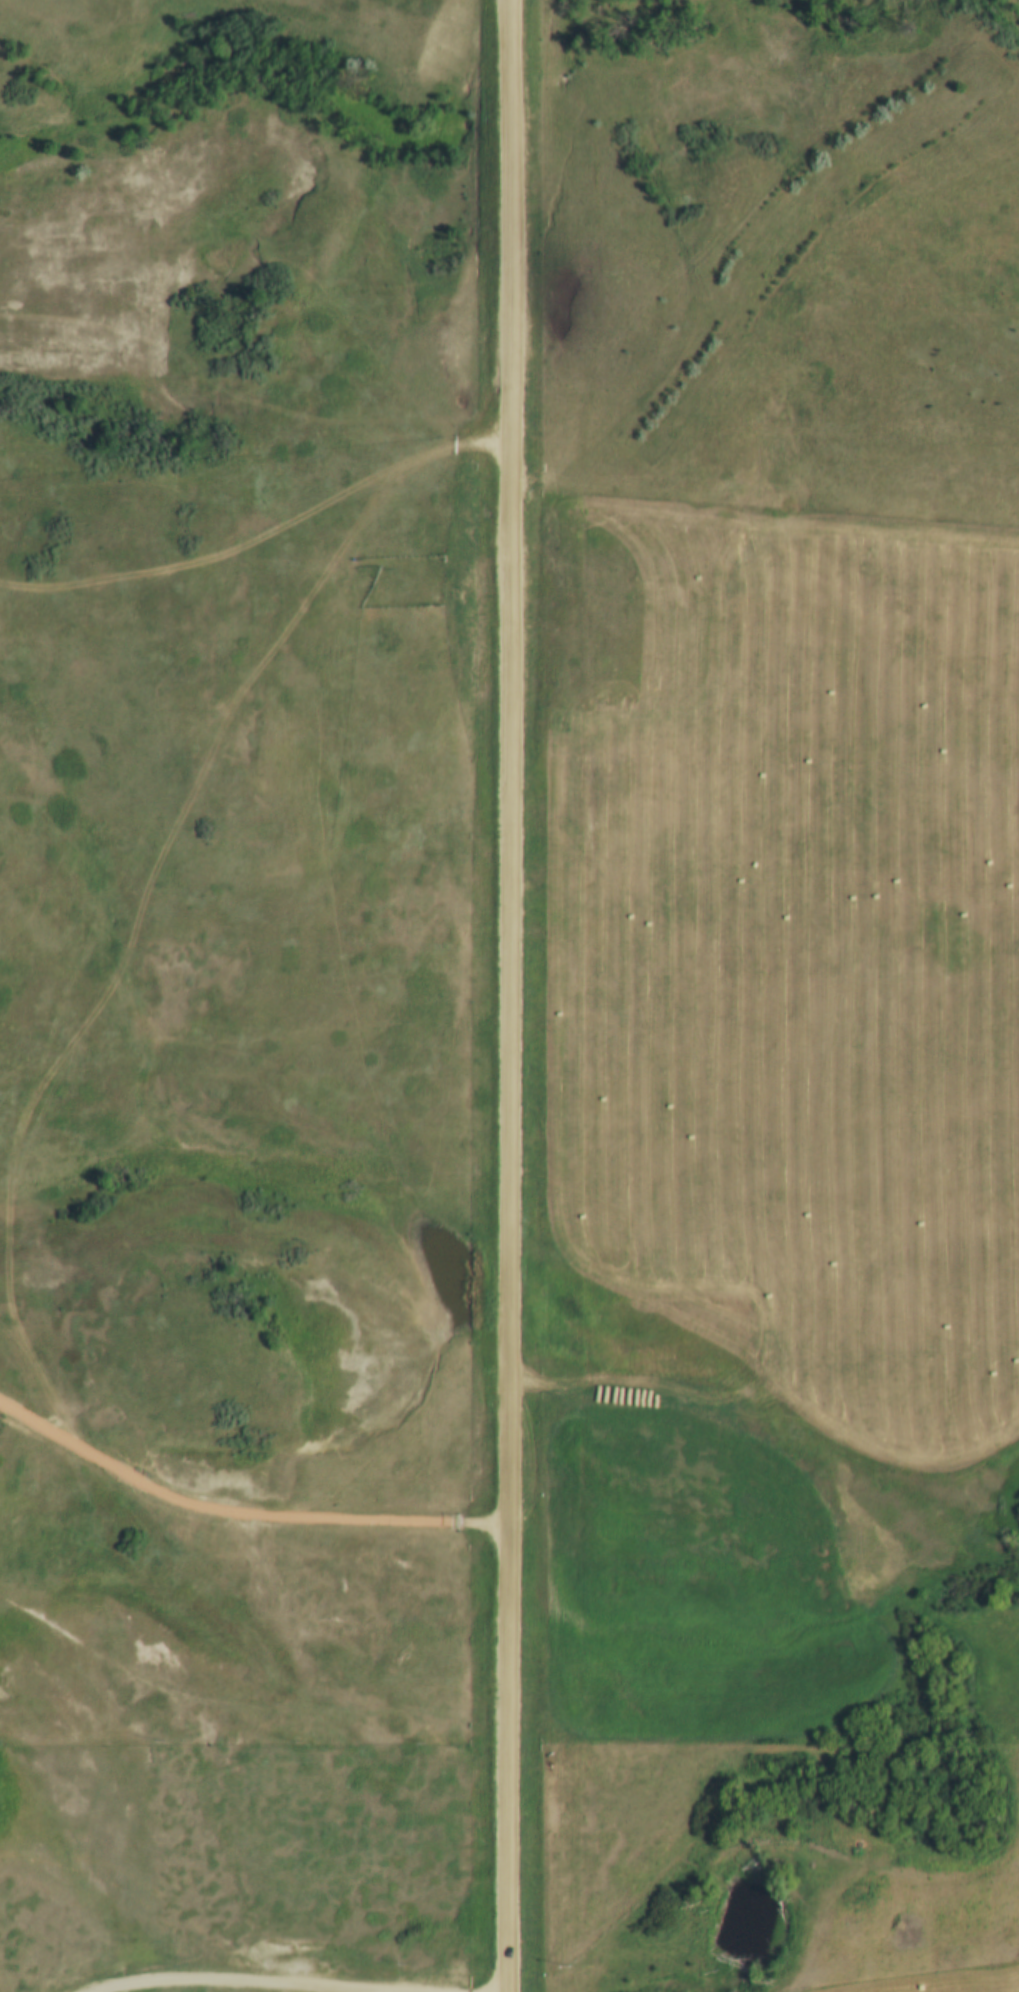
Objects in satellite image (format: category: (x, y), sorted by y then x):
road: (508, 996)
road: (239, 1513)

